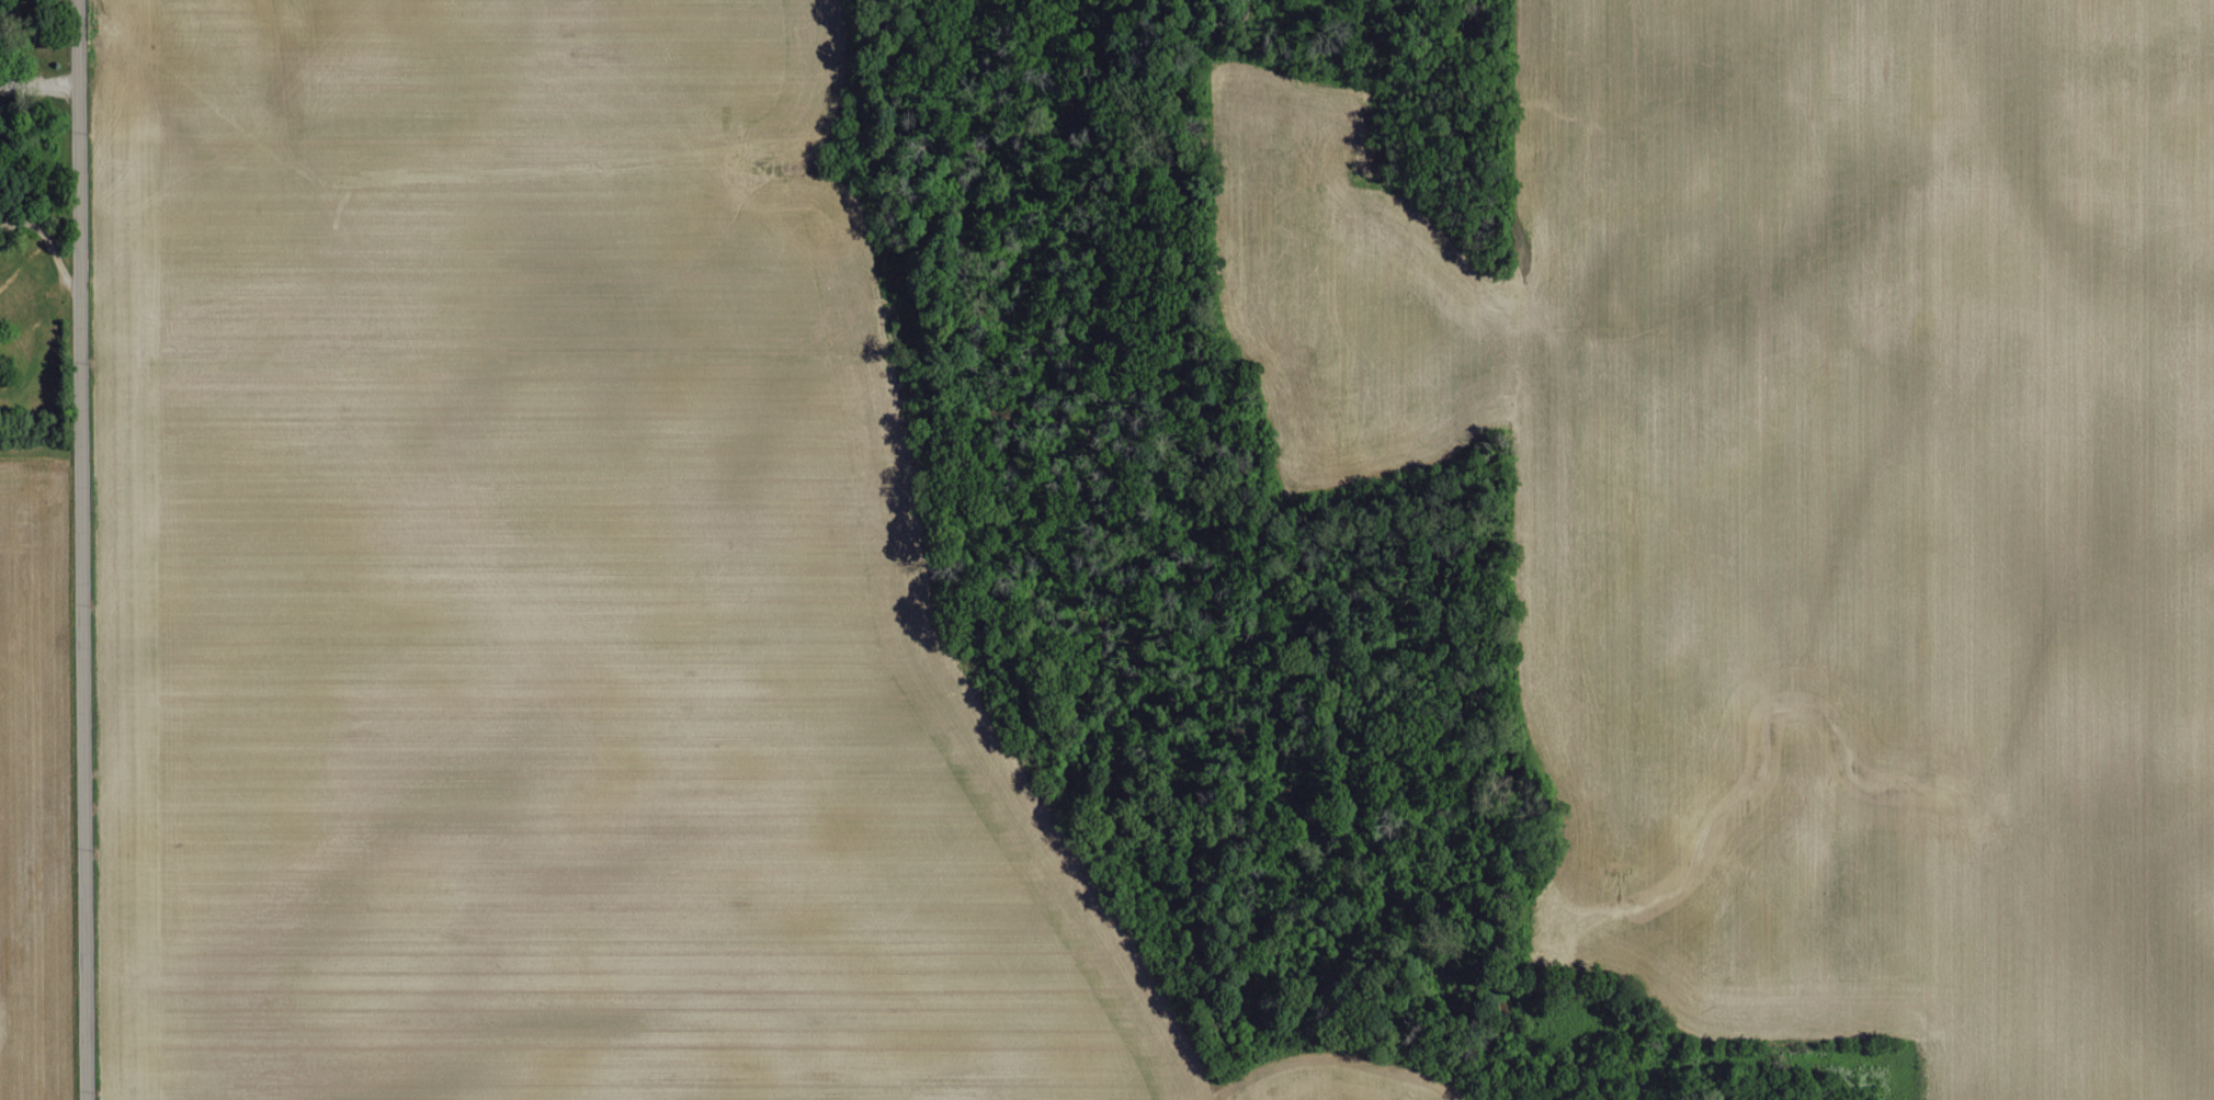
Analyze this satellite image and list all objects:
road: (38, 82)
road: (48, 241)
road: (80, 549)

